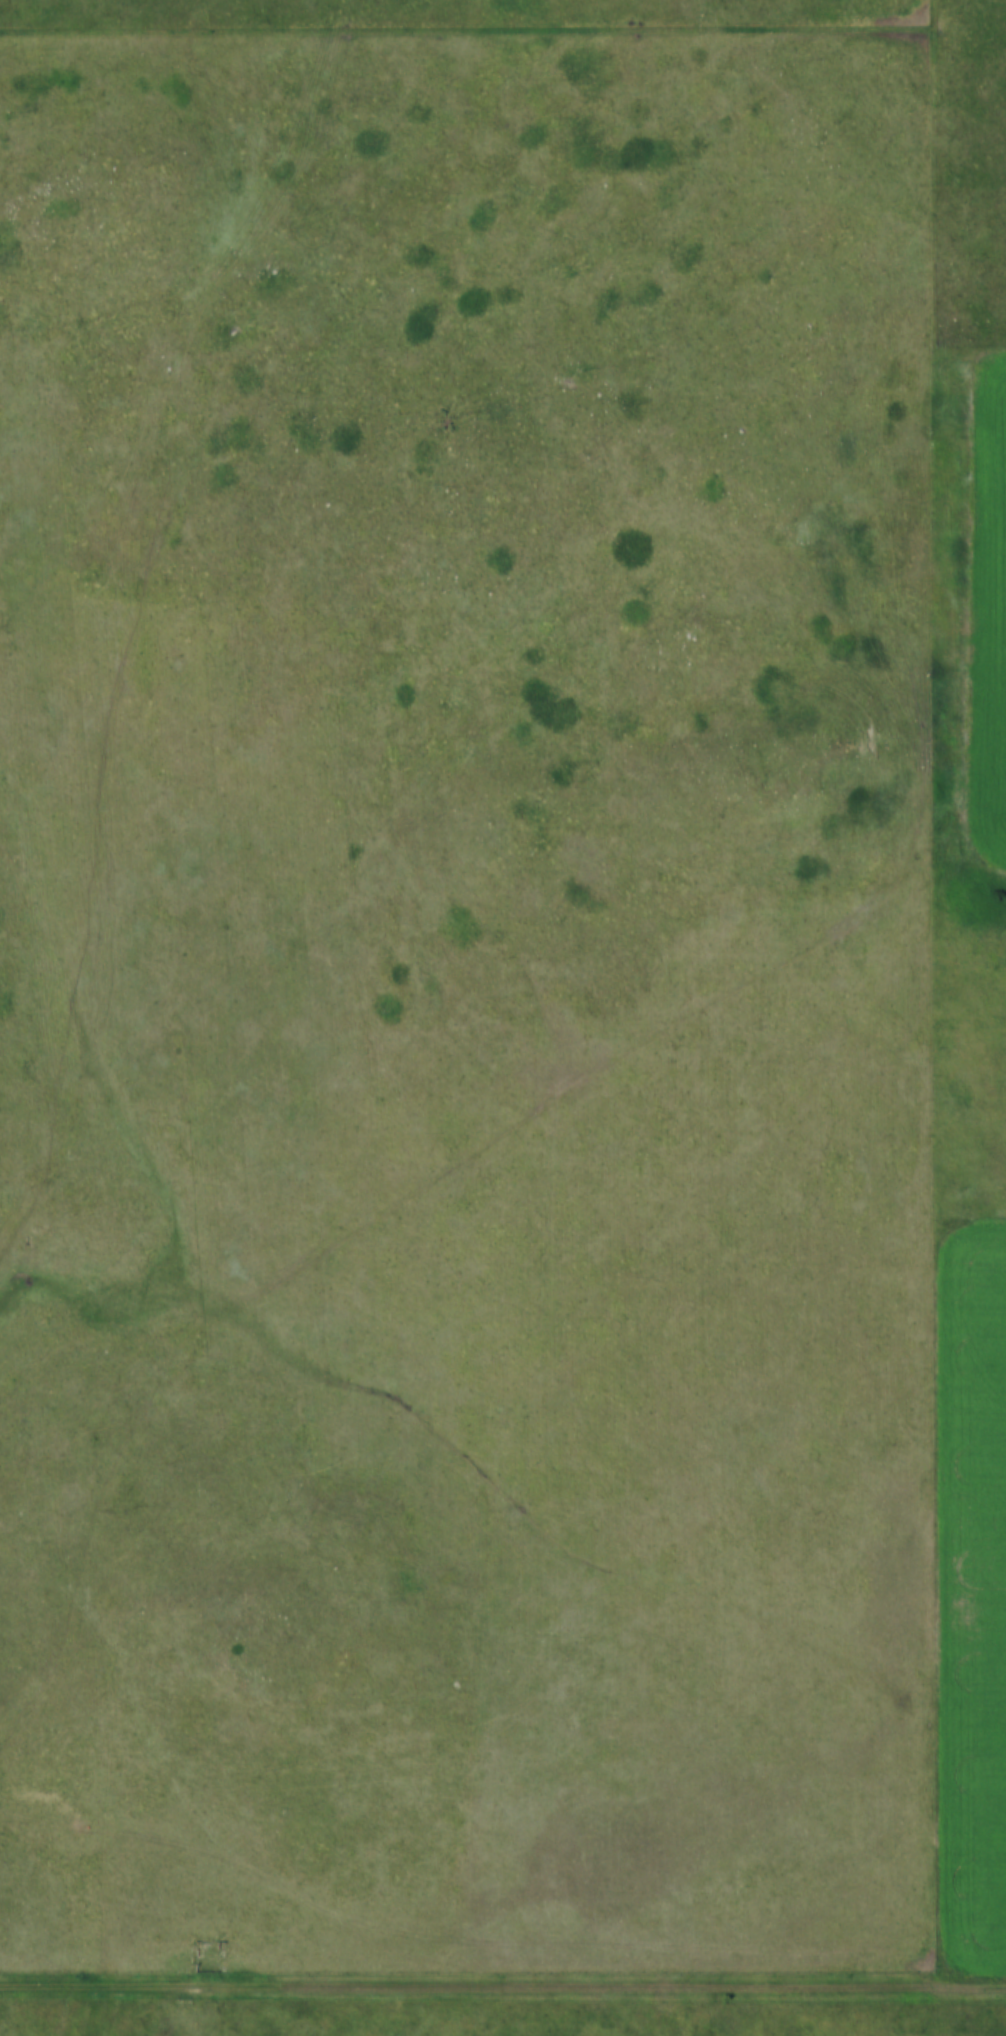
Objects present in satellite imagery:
road: (503, 1990)

